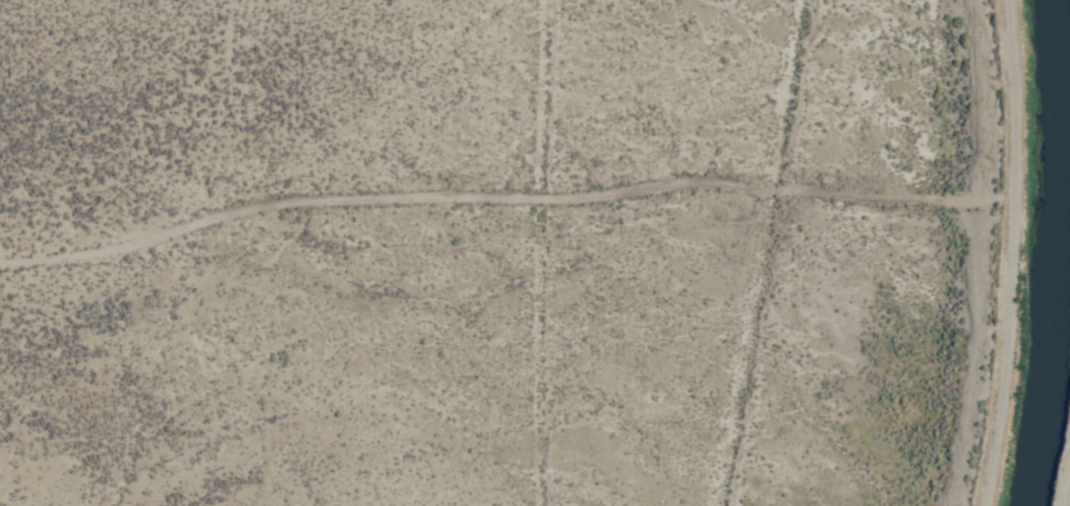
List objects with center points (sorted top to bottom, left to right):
road: (505, 197)
road: (1016, 253)

